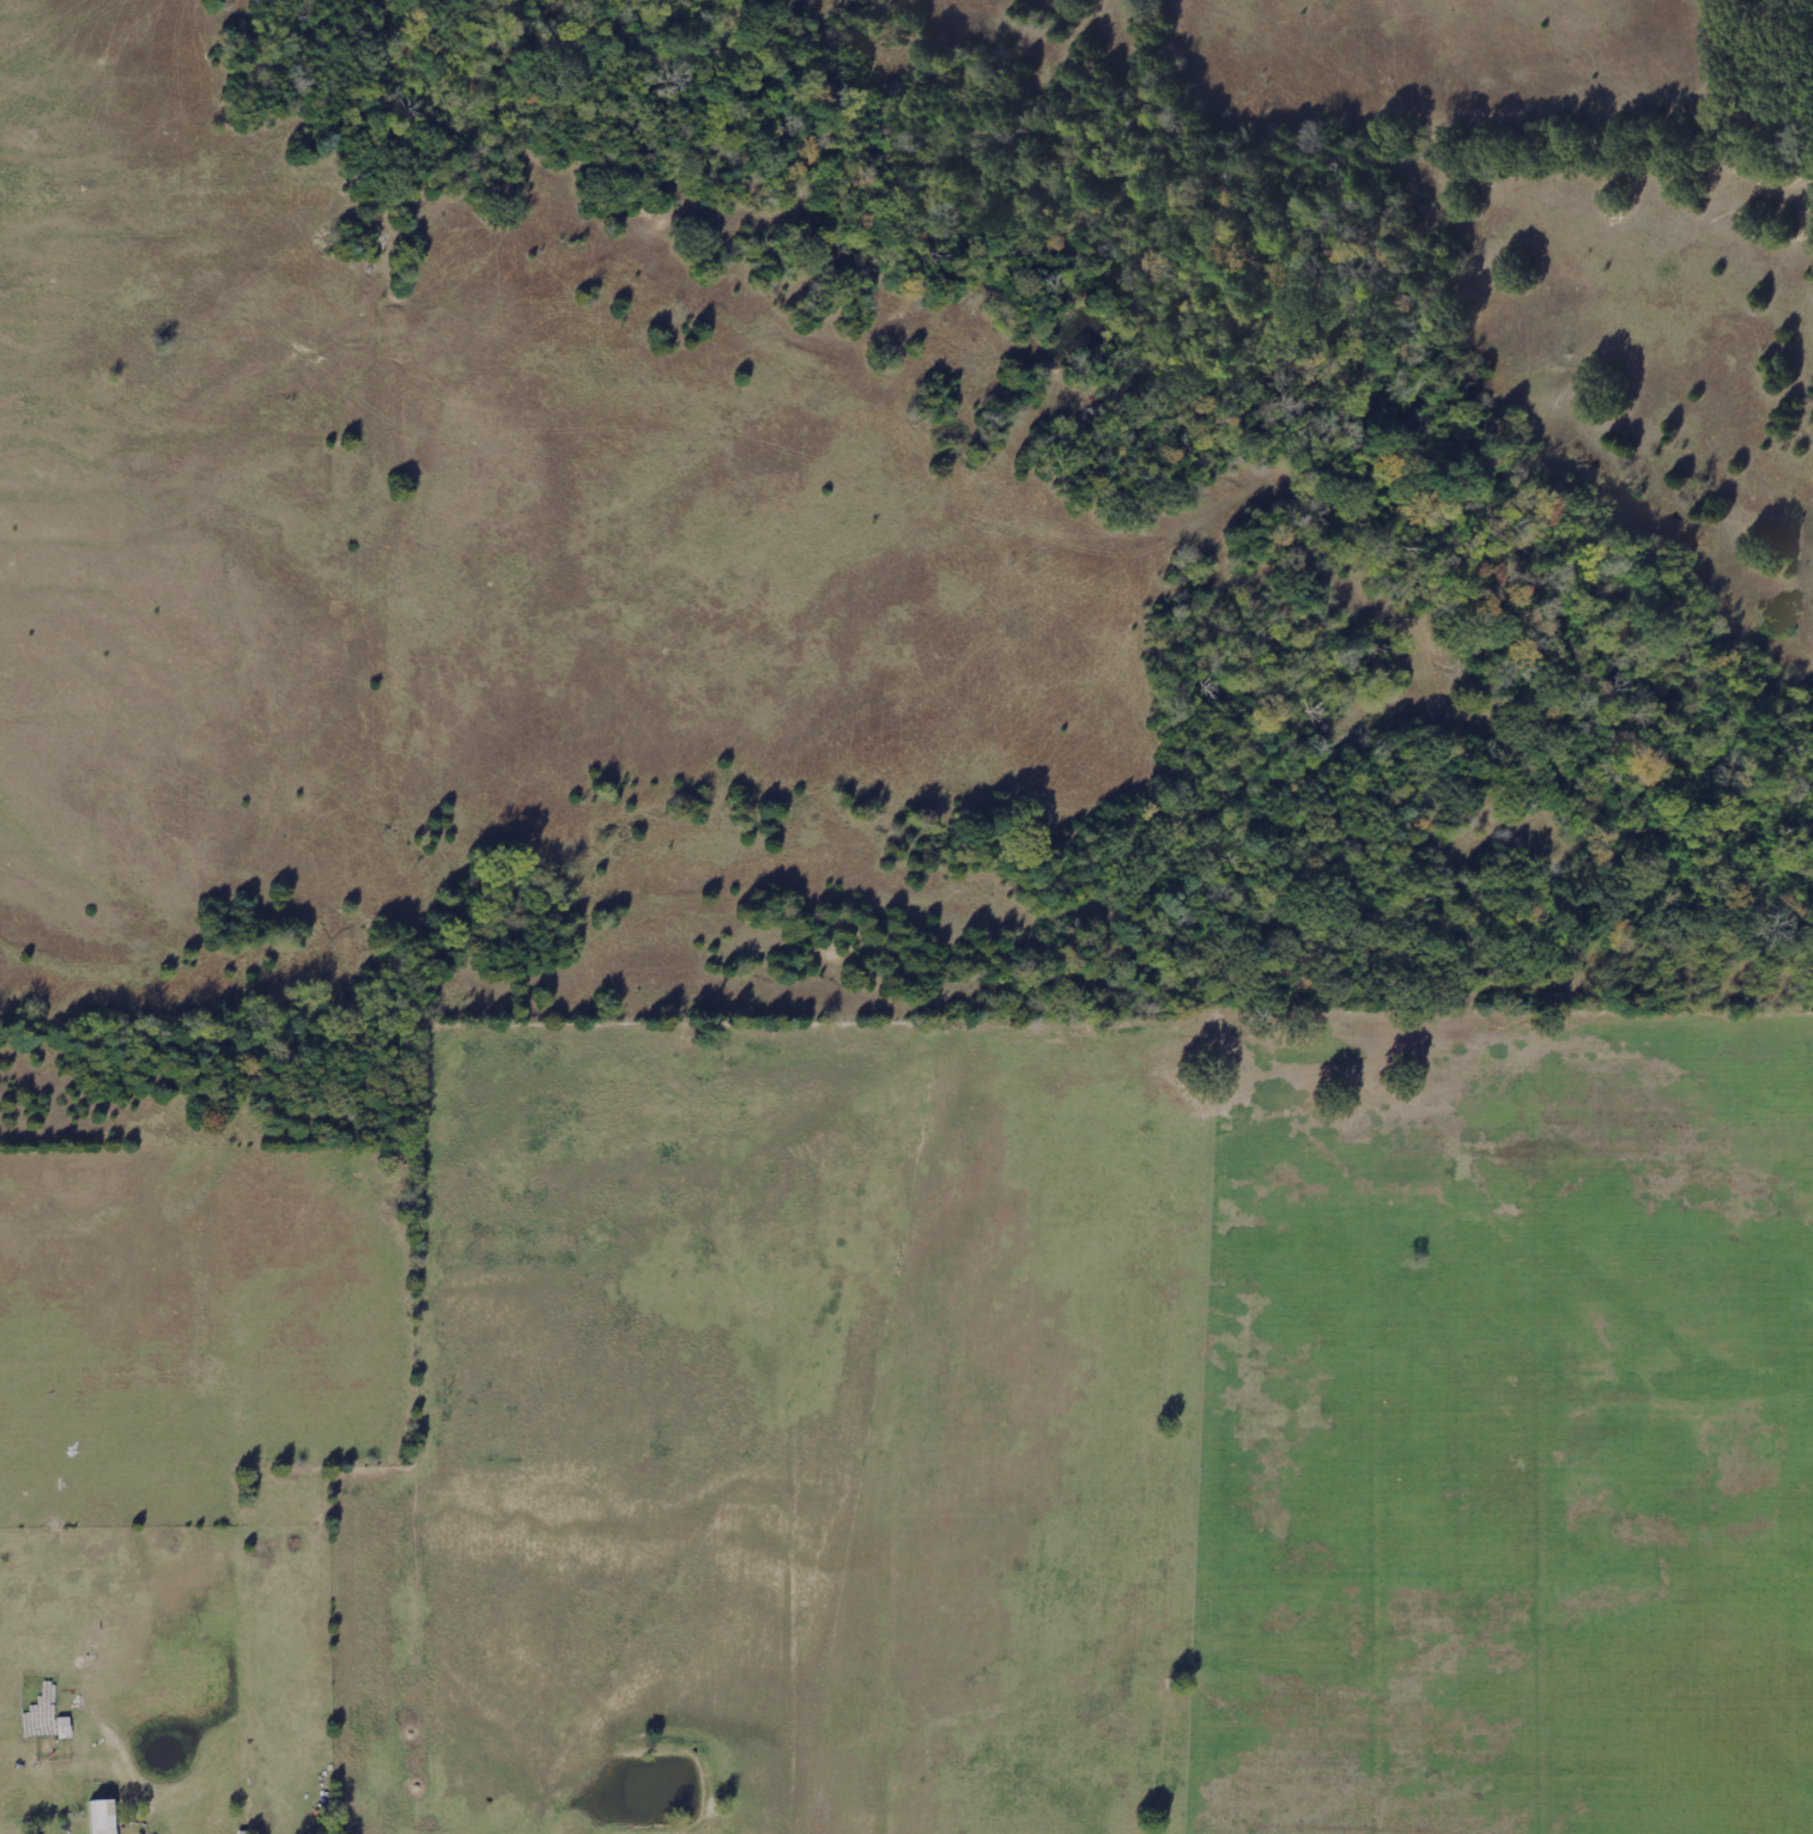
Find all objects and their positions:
building: (102, 1816)

